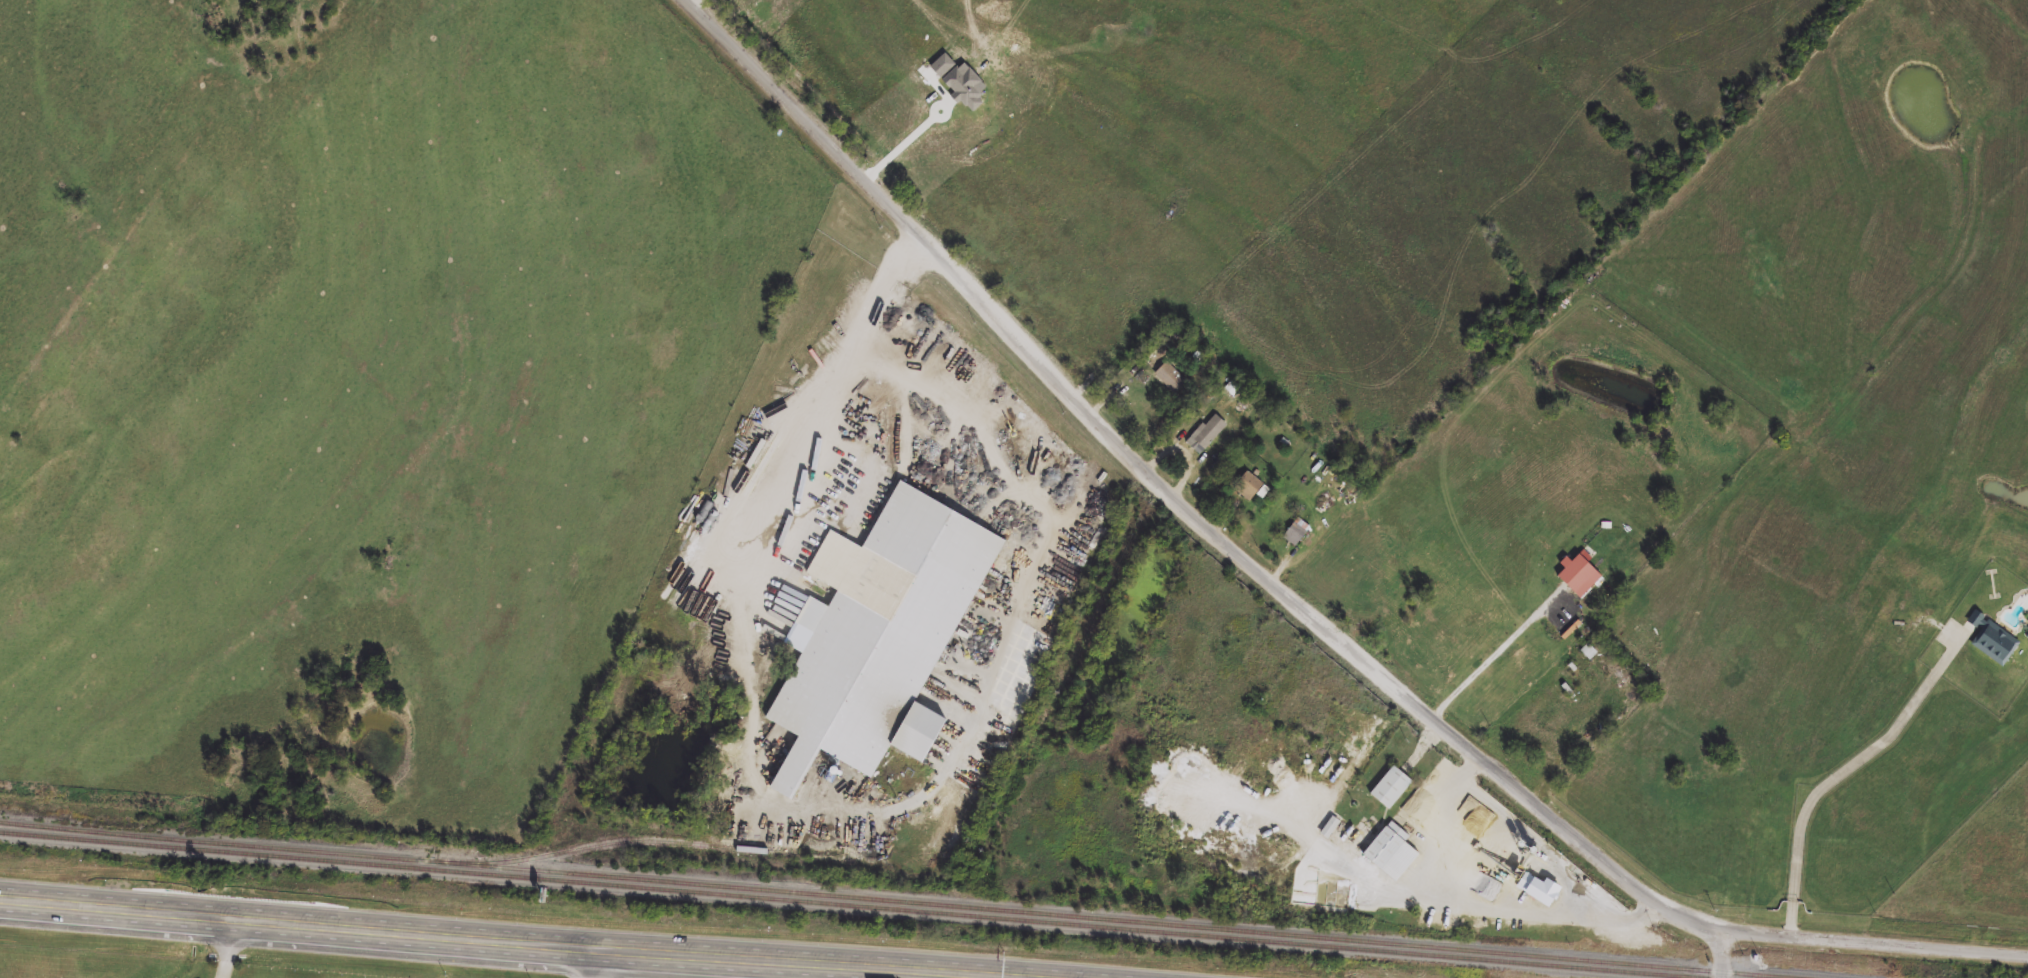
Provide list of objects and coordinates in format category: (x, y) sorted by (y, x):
road: (698, 4)
building: (962, 89)
road: (910, 140)
road: (849, 369)
building: (1168, 377)
building: (1205, 435)
building: (1249, 487)
building: (1295, 533)
building: (1309, 542)
building: (1575, 576)
road: (1289, 601)
building: (2026, 636)
building: (1991, 641)
road: (1494, 660)
building: (913, 734)
road: (1843, 775)
building: (1388, 789)
building: (1327, 829)
railway: (617, 842)
building: (1388, 852)
road: (1424, 867)
building: (1535, 890)
railway: (891, 901)
railway: (850, 905)
road: (1538, 914)
road: (451, 941)
road: (231, 950)
road: (1725, 954)
road: (591, 966)

